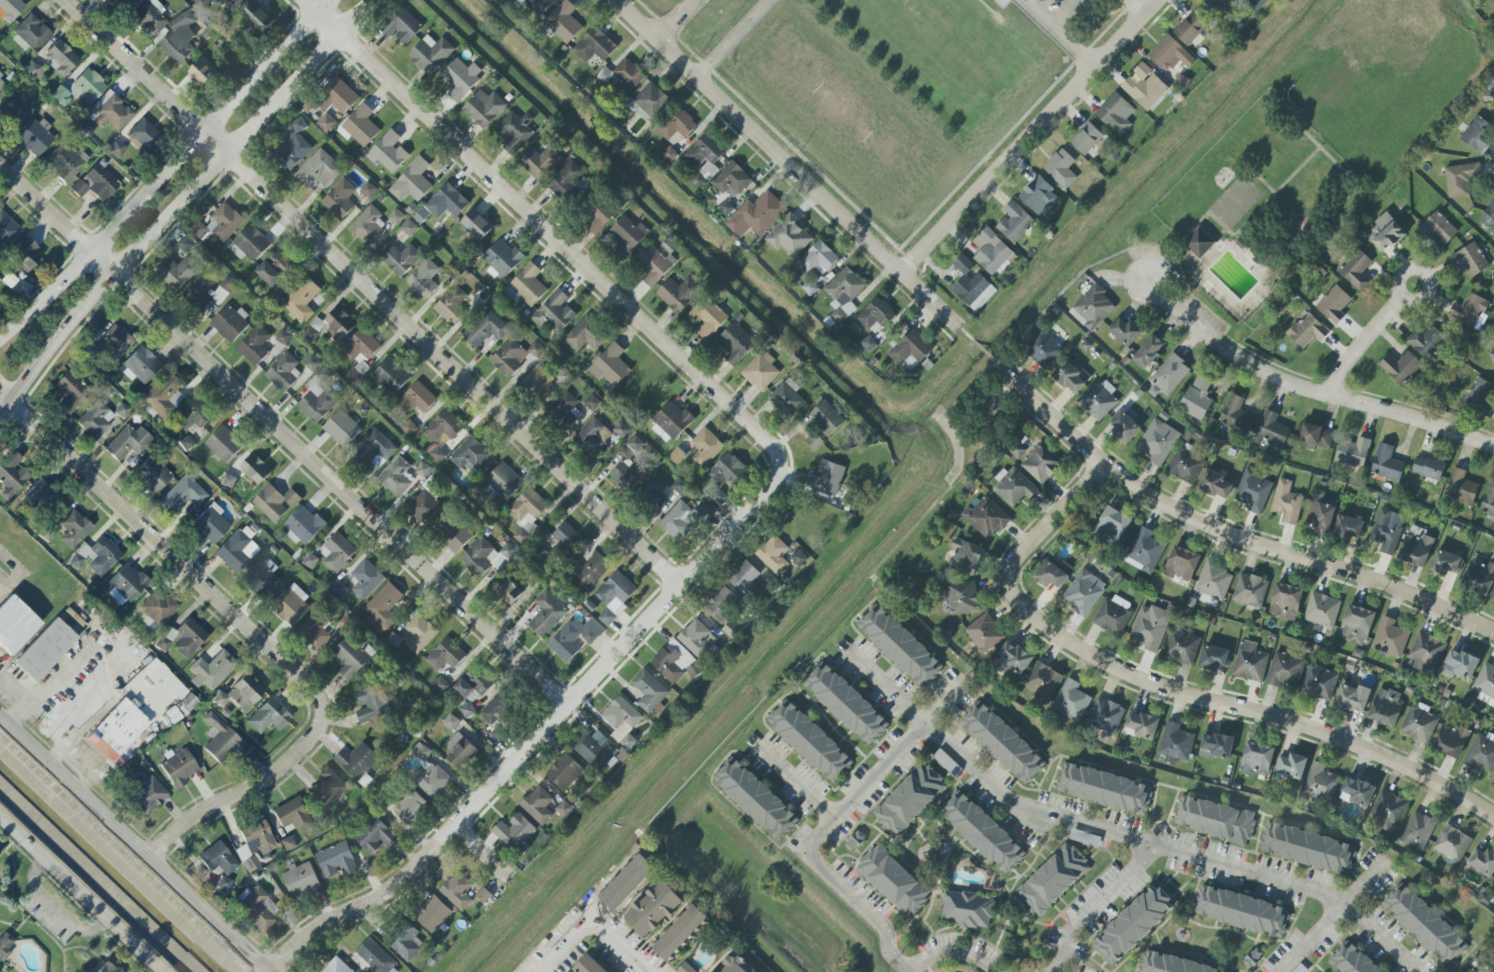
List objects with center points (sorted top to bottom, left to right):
building: (125, 3)
building: (201, 4)
building: (228, 4)
building: (539, 5)
road: (1140, 5)
building: (1221, 5)
building: (1493, 5)
building: (10, 9)
road: (1066, 13)
building: (149, 18)
building: (257, 18)
road: (674, 20)
building: (564, 22)
building: (402, 26)
building: (1190, 30)
road: (1060, 33)
building: (32, 34)
building: (179, 38)
road: (731, 39)
building: (594, 46)
building: (431, 54)
building: (1169, 54)
building: (61, 58)
building: (32, 70)
building: (202, 72)
building: (623, 76)
building: (461, 78)
building: (2, 82)
building: (1144, 86)
building: (87, 87)
building: (61, 95)
building: (342, 97)
building: (647, 101)
building: (484, 108)
building: (1115, 114)
road: (208, 123)
building: (326, 123)
building: (359, 126)
building: (677, 127)
building: (514, 131)
building: (142, 134)
building: (1476, 134)
road: (1030, 136)
building: (35, 137)
building: (1086, 138)
building: (293, 144)
building: (116, 149)
building: (389, 151)
building: (670, 155)
building: (705, 155)
park: (1302, 157)
building: (540, 162)
building: (64, 163)
road: (786, 163)
building: (1060, 168)
building: (318, 170)
building: (1460, 179)
building: (732, 181)
building: (412, 182)
building: (567, 182)
building: (95, 184)
building: (367, 190)
building: (1038, 196)
building: (340, 199)
building: (446, 201)
road: (179, 203)
building: (726, 207)
building: (595, 212)
building: (757, 214)
building: (396, 217)
building: (1488, 217)
building: (1014, 222)
building: (220, 223)
building: (476, 225)
building: (369, 227)
building: (409, 228)
building: (1436, 229)
building: (7, 231)
road: (547, 231)
building: (1385, 233)
building: (627, 236)
building: (789, 236)
building: (251, 243)
building: (1199, 243)
building: (185, 244)
building: (992, 253)
building: (24, 256)
building: (818, 258)
building: (401, 259)
building: (501, 259)
building: (1469, 260)
building: (655, 263)
building: (1356, 270)
building: (179, 272)
building: (269, 274)
building: (424, 279)
building: (972, 285)
building: (526, 286)
road: (373, 292)
road: (47, 293)
building: (209, 293)
building: (844, 293)
building: (679, 294)
building: (301, 299)
building: (1333, 304)
building: (450, 305)
building: (1092, 308)
building: (1468, 310)
building: (553, 313)
building: (875, 314)
building: (707, 318)
building: (230, 323)
building: (338, 325)
building: (485, 329)
building: (1307, 330)
building: (1125, 331)
road: (966, 333)
building: (585, 335)
road: (1366, 336)
building: (283, 337)
building: (115, 341)
building: (1428, 342)
building: (736, 343)
building: (255, 345)
building: (910, 348)
building: (1043, 349)
building: (360, 350)
building: (536, 350)
road: (983, 350)
building: (1148, 352)
building: (1492, 357)
building: (509, 358)
building: (312, 364)
building: (140, 365)
road: (997, 365)
building: (610, 366)
building: (1400, 367)
building: (761, 371)
building: (284, 372)
building: (1168, 375)
building: (391, 376)
building: (1071, 376)
building: (564, 377)
building: (538, 382)
road: (1306, 387)
building: (70, 392)
building: (164, 396)
building: (1480, 396)
building: (318, 397)
building: (1197, 397)
building: (787, 398)
building: (416, 399)
building: (1098, 399)
building: (592, 403)
building: (565, 409)
building: (122, 411)
building: (1235, 414)
building: (193, 415)
building: (826, 418)
building: (95, 419)
building: (670, 423)
building: (1125, 427)
building: (342, 428)
building: (621, 430)
building: (1269, 431)
road: (284, 432)
building: (441, 434)
building: (1316, 435)
building: (592, 436)
building: (814, 442)
building: (1158, 442)
building: (128, 443)
building: (224, 444)
building: (705, 447)
building: (373, 448)
building: (631, 448)
building: (1017, 451)
building: (1352, 453)
building: (470, 455)
building: (1386, 463)
building: (1041, 464)
building: (1185, 465)
building: (1428, 468)
building: (255, 469)
building: (422, 469)
building: (728, 471)
building: (11, 475)
building: (152, 476)
building: (623, 476)
building: (396, 477)
building: (826, 477)
building: (504, 481)
building: (1215, 484)
building: (680, 486)
building: (1460, 486)
building: (1013, 487)
building: (1253, 491)
building: (41, 495)
building: (182, 495)
building: (719, 497)
building: (658, 499)
building: (1488, 501)
building: (275, 502)
building: (1287, 502)
building: (424, 508)
building: (1319, 512)
building: (527, 513)
building: (986, 517)
road: (1058, 519)
building: (683, 520)
building: (210, 524)
building: (1112, 525)
building: (304, 526)
building: (1348, 528)
building: (74, 529)
building: (1387, 530)
road: (1230, 532)
building: (457, 536)
building: (566, 540)
building: (1417, 549)
building: (237, 550)
building: (1144, 551)
building: (337, 552)
building: (773, 554)
building: (965, 556)
building: (95, 557)
building: (486, 557)
building: (310, 561)
building: (1445, 563)
building: (1181, 564)
building: (591, 572)
road: (20, 573)
building: (1051, 575)
building: (1479, 577)
building: (745, 578)
building: (366, 579)
building: (1213, 580)
building: (262, 581)
building: (127, 582)
building: (338, 589)
building: (510, 590)
building: (1250, 590)
building: (1084, 592)
building: (1492, 596)
building: (963, 598)
building: (1285, 601)
building: (721, 604)
building: (292, 606)
building: (384, 606)
building: (158, 608)
building: (1322, 610)
building: (547, 614)
building: (1113, 615)
building: (1356, 624)
building: (15, 625)
building: (1151, 627)
building: (731, 629)
building: (315, 631)
road: (245, 633)
building: (419, 633)
building: (984, 633)
building: (189, 637)
building: (574, 637)
building: (695, 637)
building: (1389, 638)
building: (165, 639)
building: (900, 646)
building: (1181, 648)
building: (45, 650)
building: (1426, 653)
building: (445, 655)
building: (352, 657)
building: (1014, 658)
building: (1214, 658)
building: (669, 662)
building: (1250, 662)
building: (1460, 664)
building: (694, 669)
building: (211, 670)
building: (1285, 670)
building: (163, 678)
building: (1043, 680)
road: (48, 681)
building: (1485, 682)
building: (1319, 683)
building: (440, 684)
building: (473, 684)
road: (14, 687)
building: (650, 692)
building: (241, 694)
building: (1353, 697)
building: (1070, 702)
building: (845, 703)
building: (371, 704)
building: (1386, 707)
building: (467, 710)
road: (1246, 713)
building: (496, 715)
building: (269, 716)
building: (1106, 716)
building: (622, 721)
building: (451, 722)
building: (1419, 723)
building: (1141, 726)
building: (121, 734)
road: (538, 737)
building: (220, 739)
building: (1451, 740)
building: (810, 741)
building: (1176, 742)
building: (1002, 743)
building: (1216, 746)
building: (595, 749)
building: (460, 750)
building: (421, 752)
building: (1481, 755)
building: (1257, 759)
building: (357, 760)
building: (947, 762)
building: (1291, 766)
building: (179, 768)
building: (565, 772)
building: (432, 780)
building: (1320, 782)
building: (1493, 782)
road: (799, 786)
building: (328, 787)
building: (1104, 789)
building: (1357, 792)
building: (148, 795)
building: (756, 799)
building: (909, 800)
building: (538, 805)
building: (409, 806)
building: (564, 809)
building: (1387, 811)
building: (292, 815)
building: (1214, 819)
road: (1074, 824)
road: (831, 825)
building: (1418, 831)
building: (514, 832)
building: (983, 833)
building: (375, 836)
building: (1085, 838)
road: (132, 841)
building: (855, 841)
building: (288, 843)
building: (1452, 843)
building: (254, 844)
building: (1305, 848)
building: (217, 859)
building: (337, 860)
building: (1483, 862)
building: (301, 880)
building: (1052, 880)
building: (893, 881)
building: (626, 882)
building: (224, 883)
road: (1364, 885)
building: (1493, 887)
building: (457, 891)
road: (83, 892)
building: (483, 895)
road: (1101, 905)
road: (1343, 906)
road: (55, 909)
building: (258, 909)
building: (654, 909)
building: (967, 910)
building: (1241, 911)
building: (432, 914)
road: (1350, 916)
road: (601, 922)
building: (1424, 924)
building: (1133, 925)
building: (680, 933)
building: (406, 942)
building: (6, 944)
road: (954, 954)
building: (1253, 957)
building: (377, 958)
building: (1350, 961)
building: (1169, 964)
building: (589, 965)
building: (734, 965)
building: (337, 966)
building: (105, 968)
building: (685, 968)

